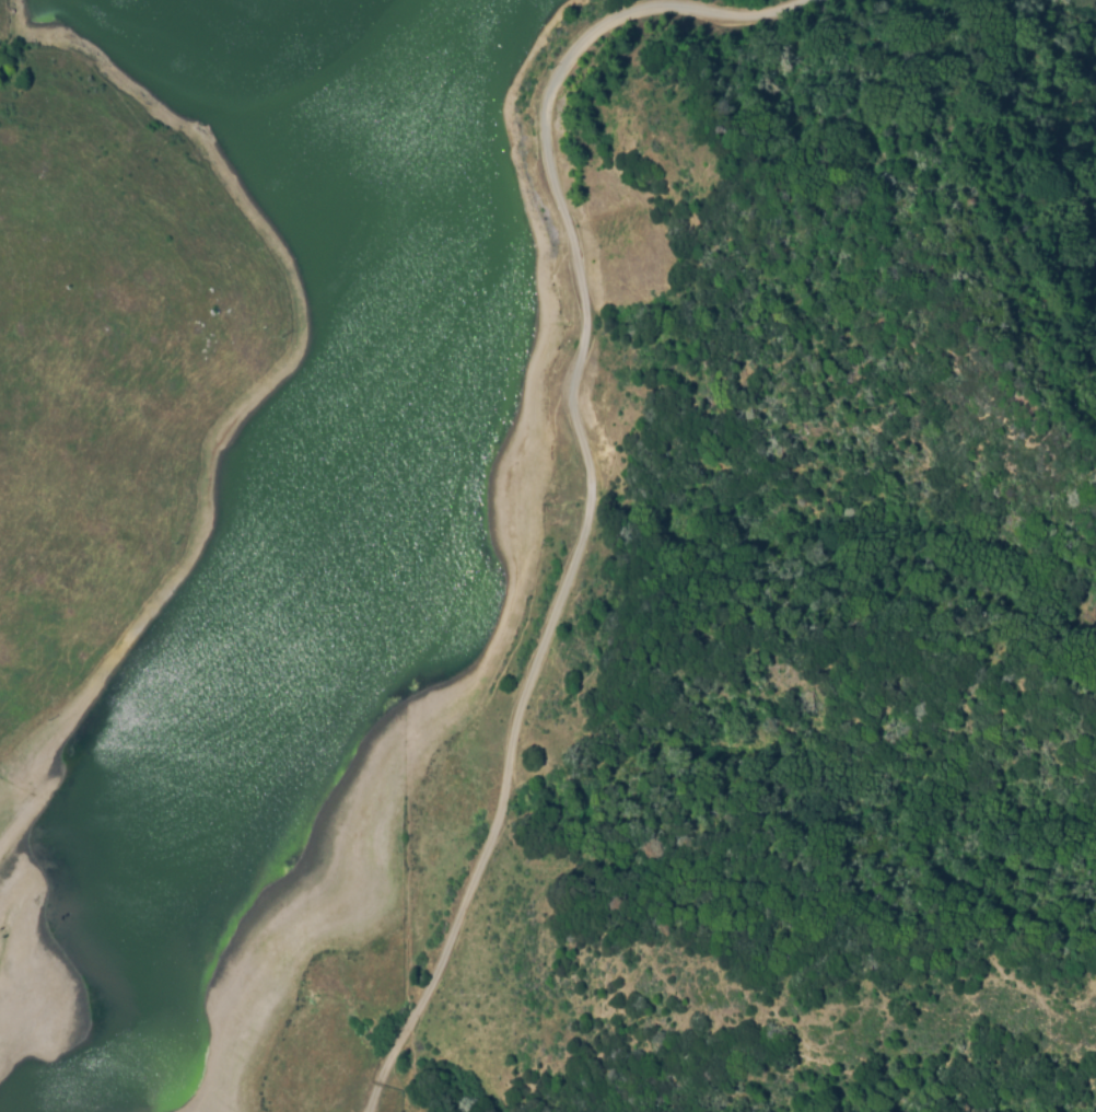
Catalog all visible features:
road: (586, 467)

